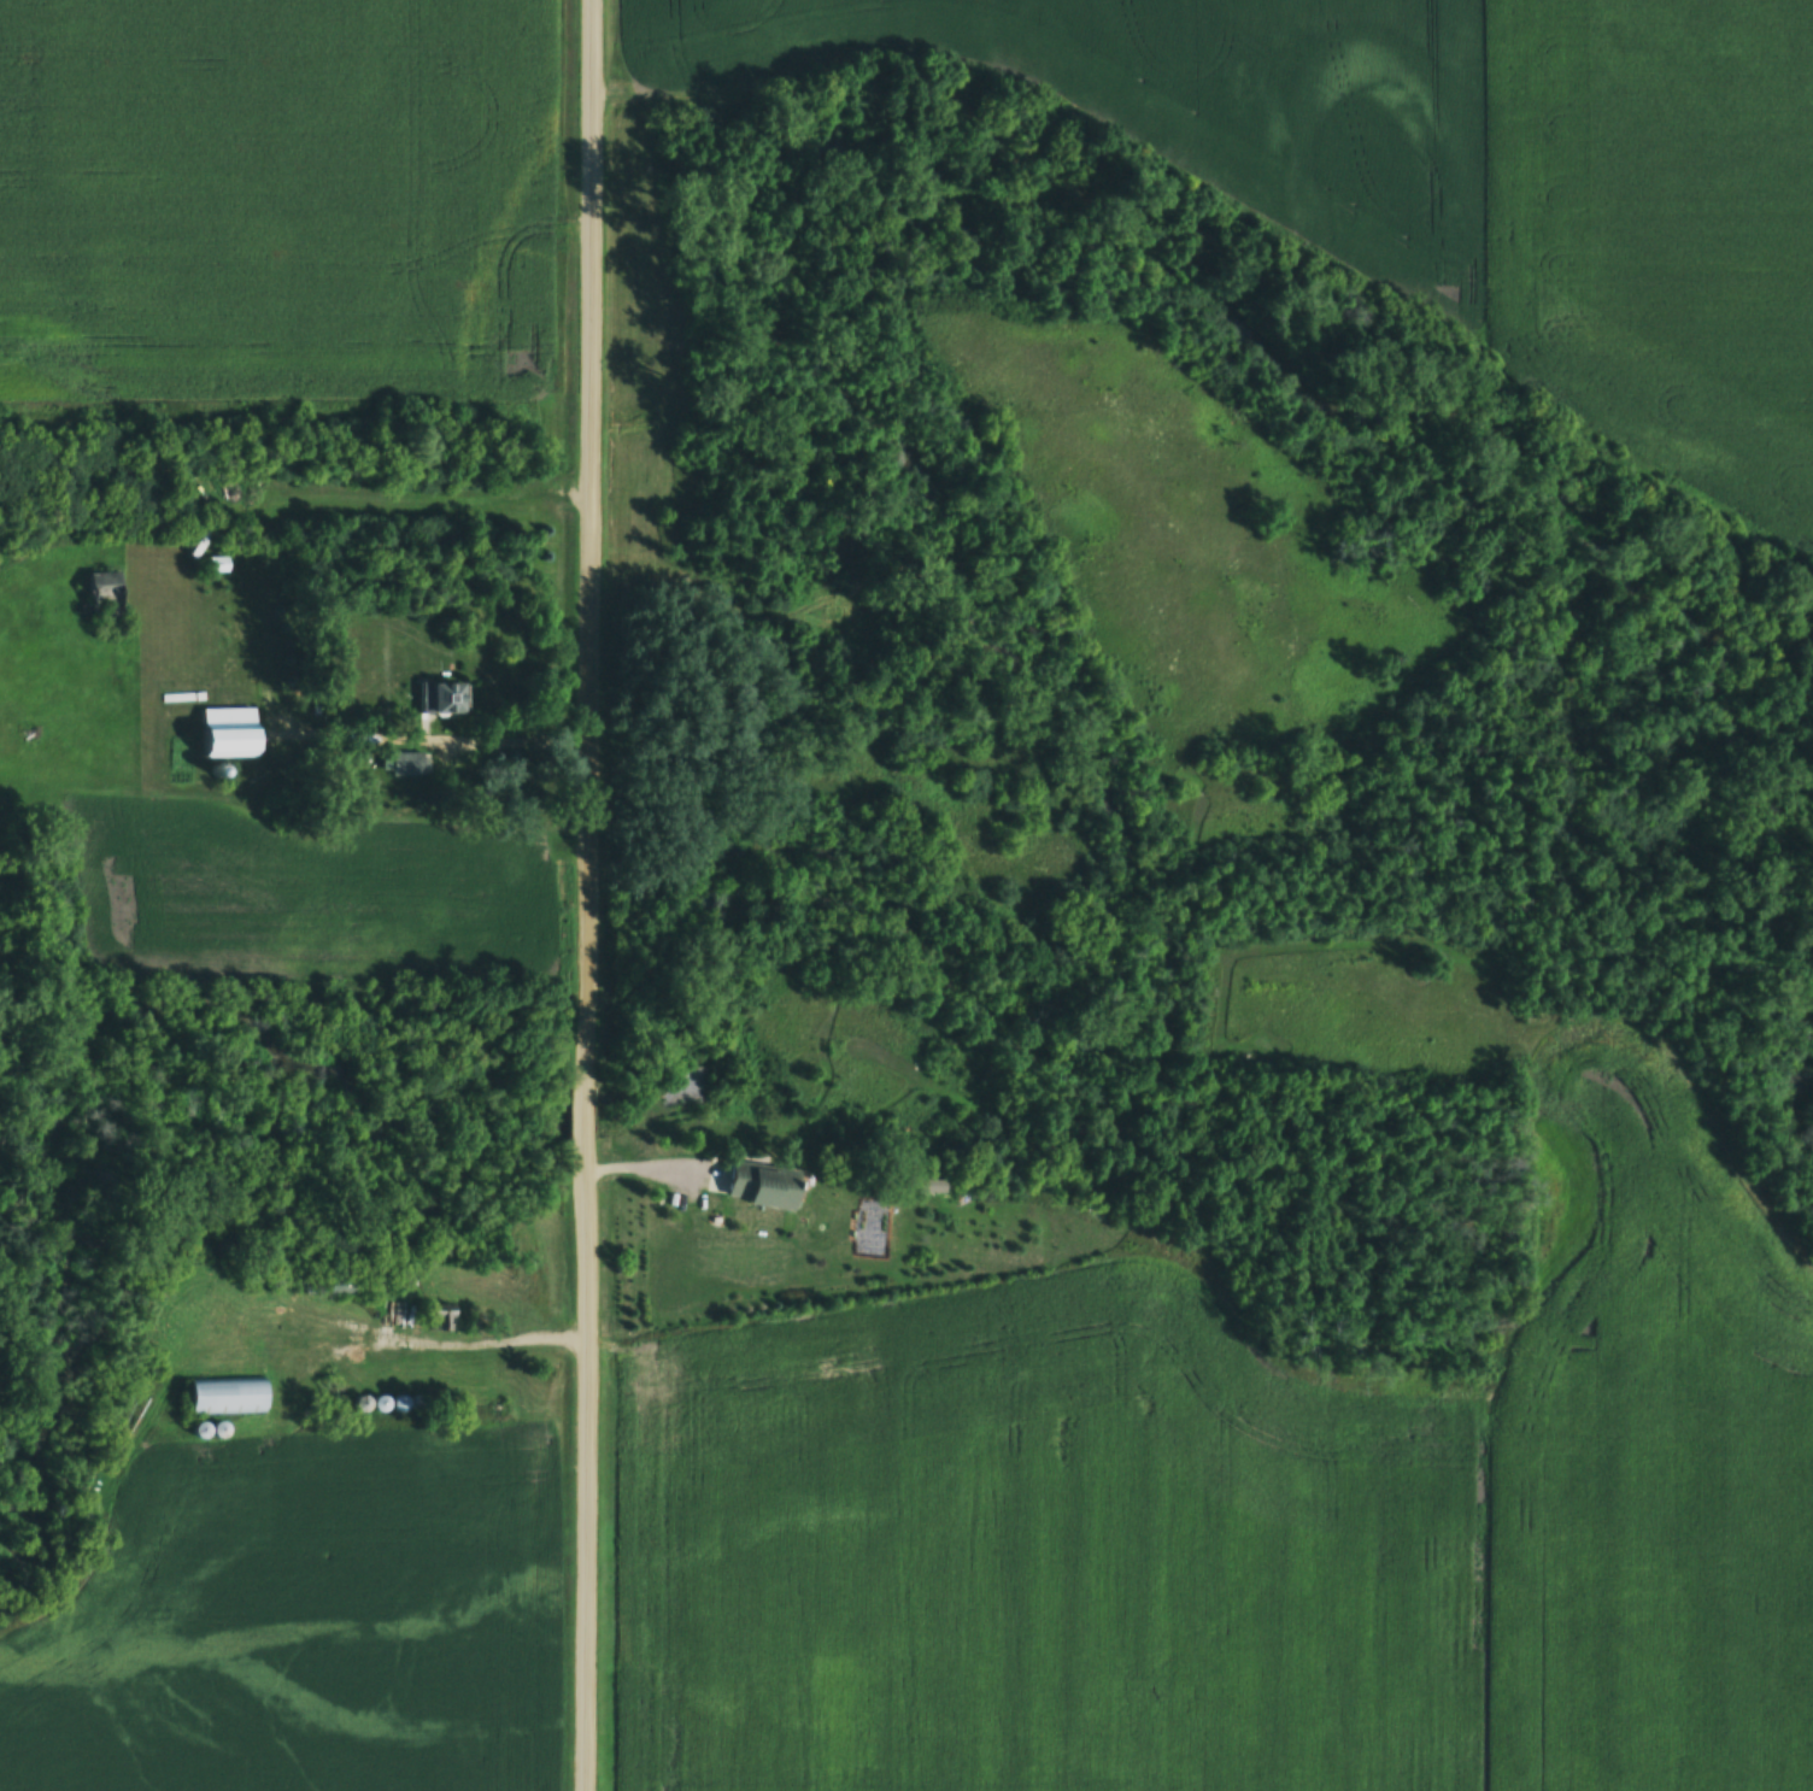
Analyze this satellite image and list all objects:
building: (107, 591)
building: (446, 697)
building: (231, 732)
building: (410, 763)
road: (593, 894)
river: (1172, 1004)
building: (767, 1194)
building: (230, 1396)

